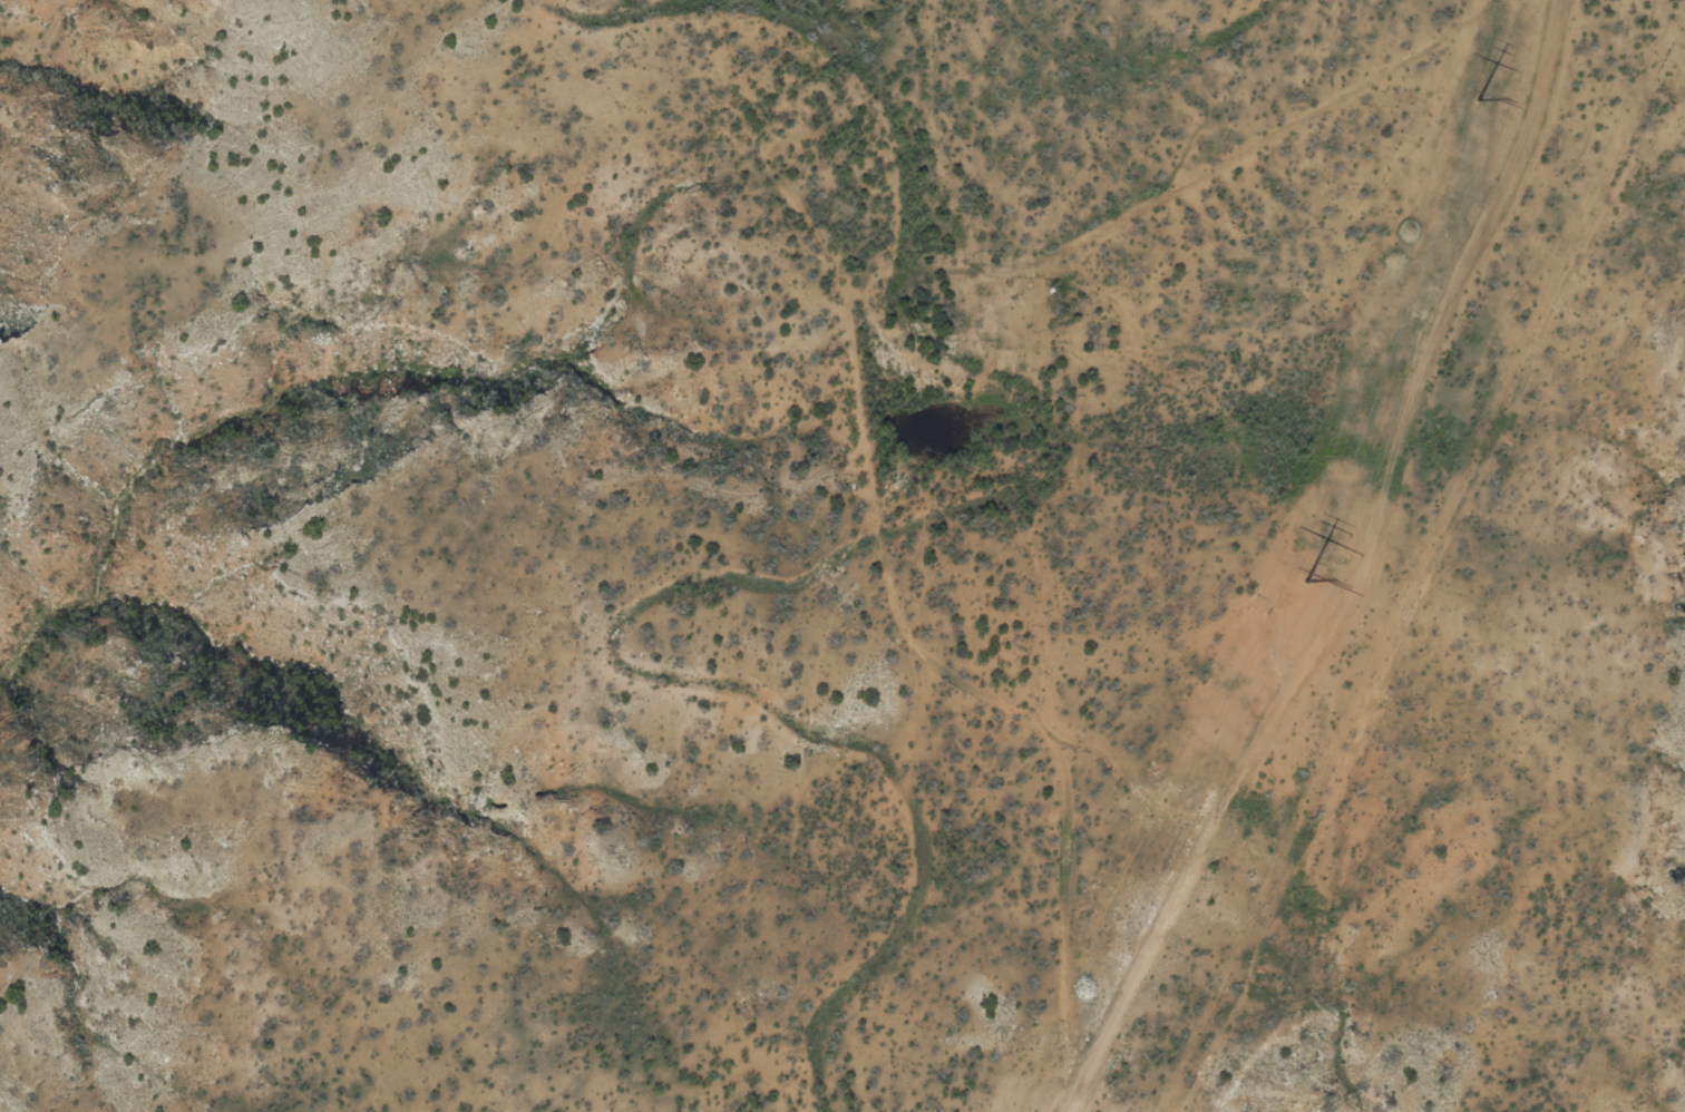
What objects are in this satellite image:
power tower: (1477, 99)
power tower: (1304, 581)

